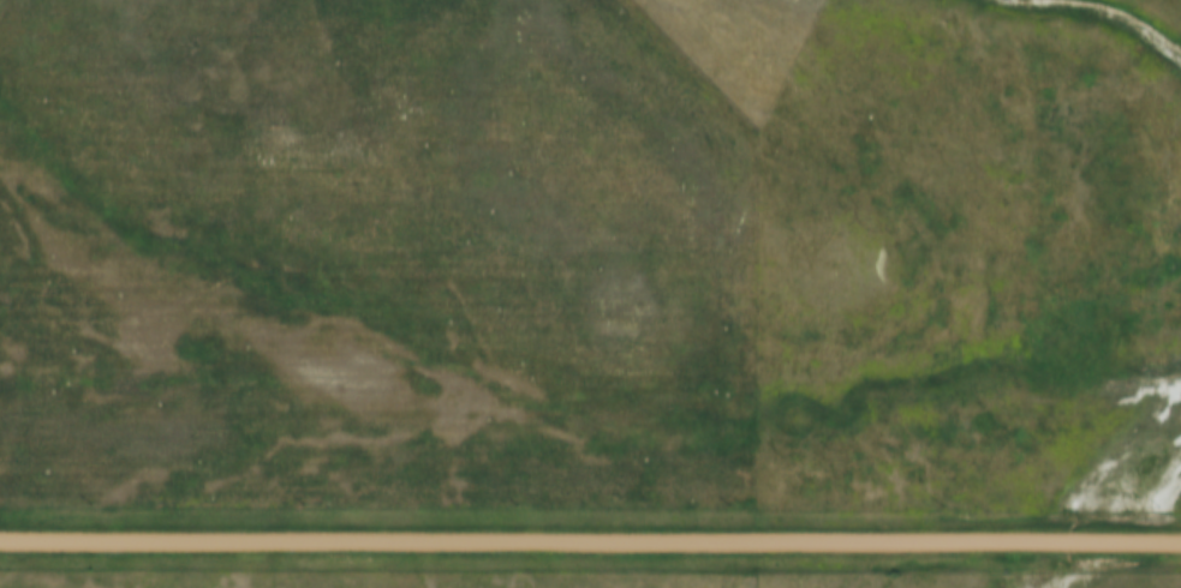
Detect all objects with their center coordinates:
road: (590, 541)

